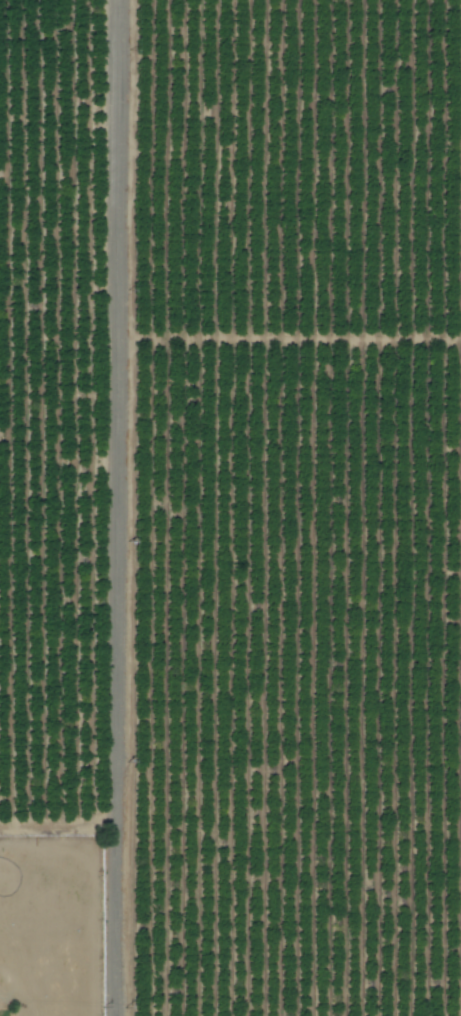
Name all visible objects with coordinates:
road: (123, 508)

